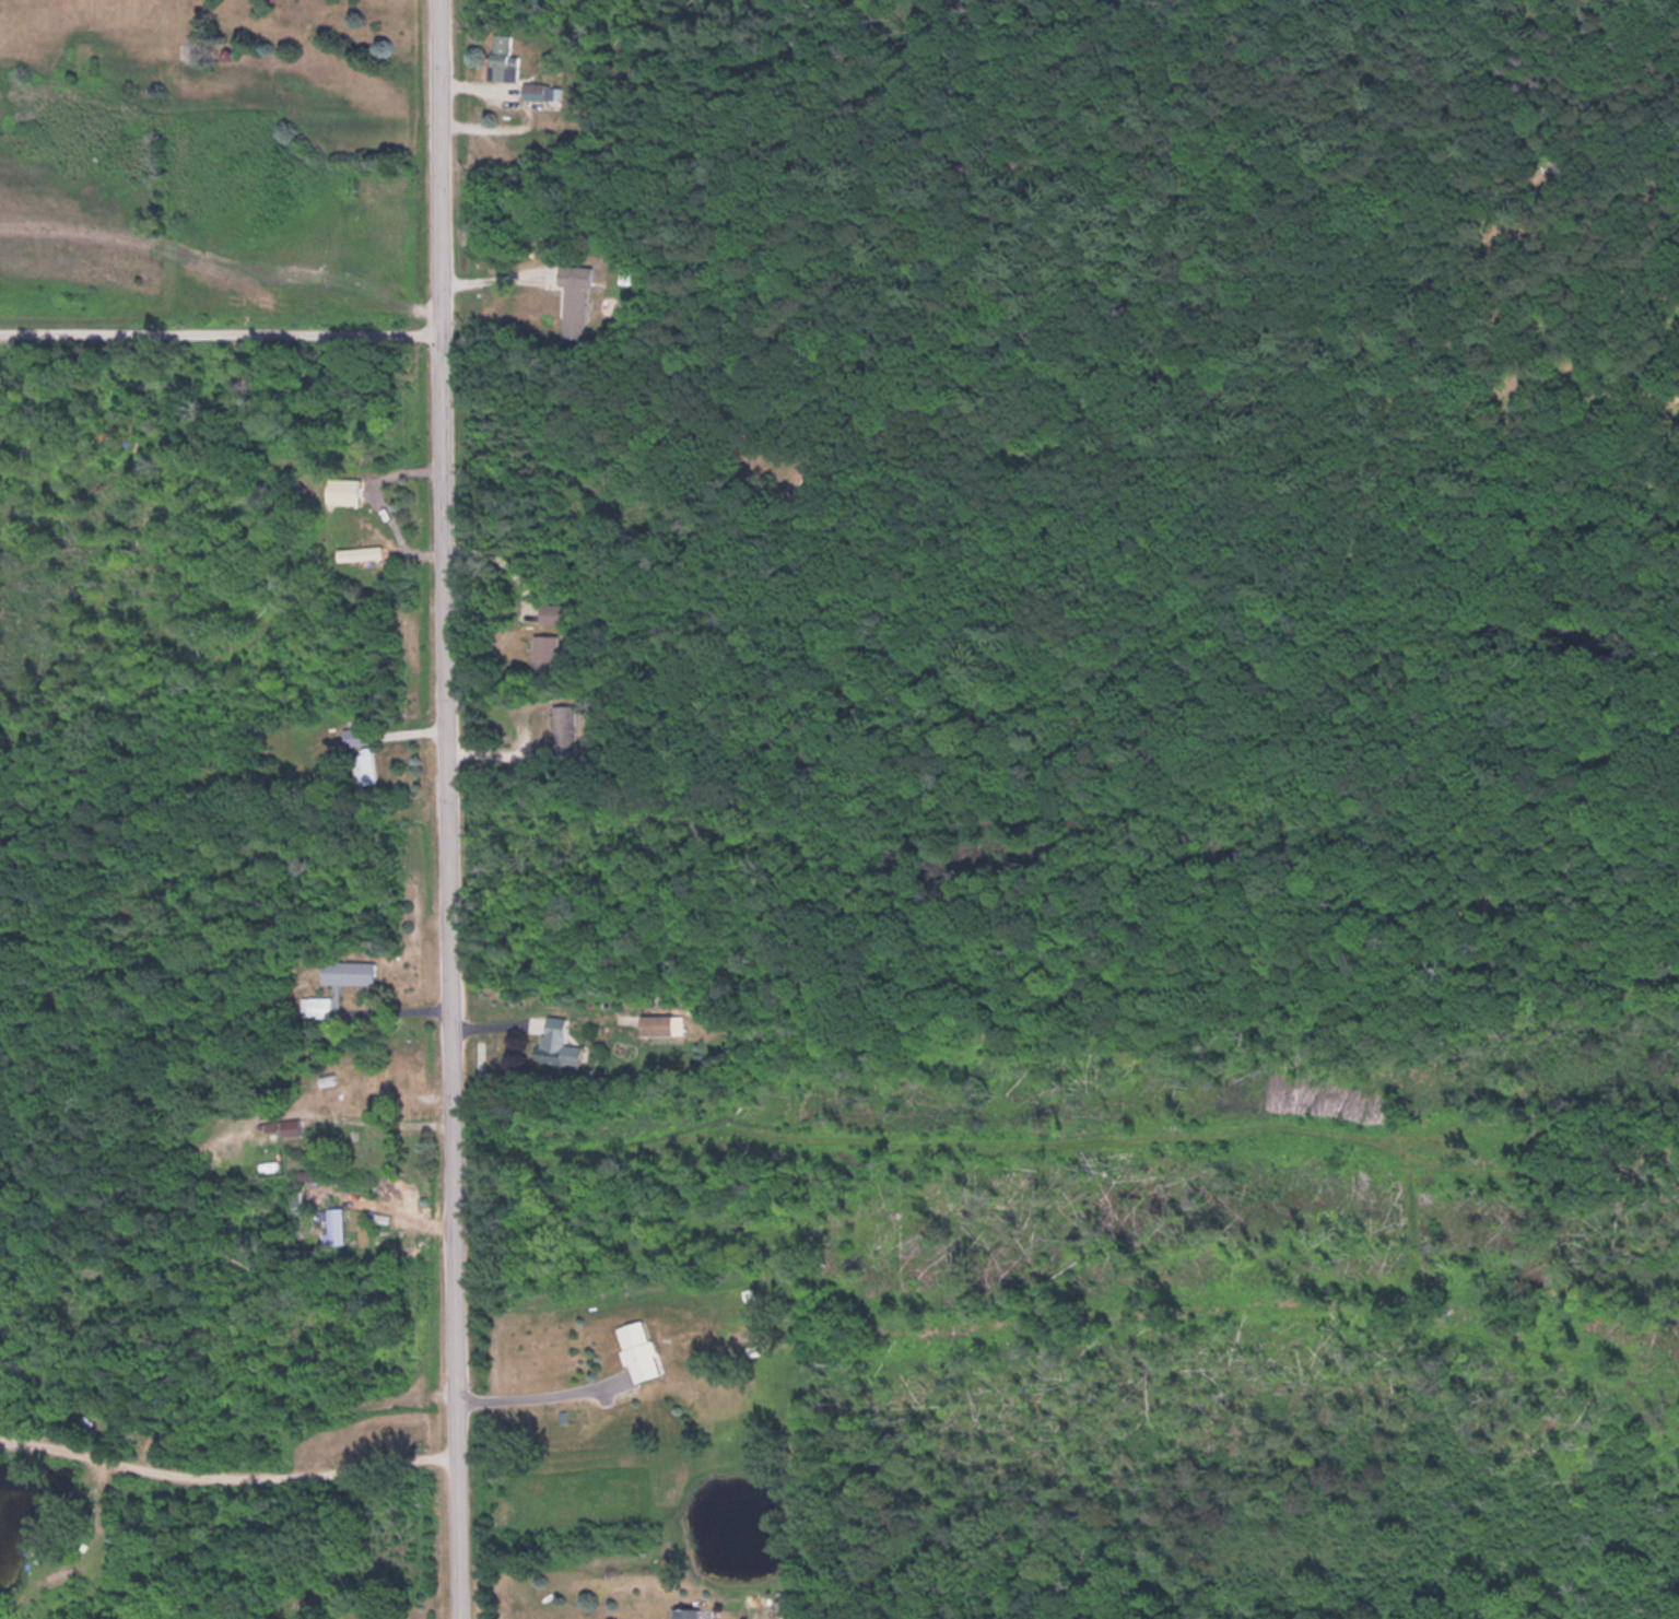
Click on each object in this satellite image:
building: (506, 56)
building: (539, 90)
building: (579, 301)
building: (365, 551)
building: (555, 612)
building: (549, 652)
building: (567, 730)
building: (352, 736)
road: (445, 809)
building: (351, 972)
building: (319, 1007)
building: (665, 1023)
building: (561, 1043)
building: (330, 1083)
building: (336, 1227)
building: (643, 1350)
road: (533, 1393)
building: (691, 1612)

